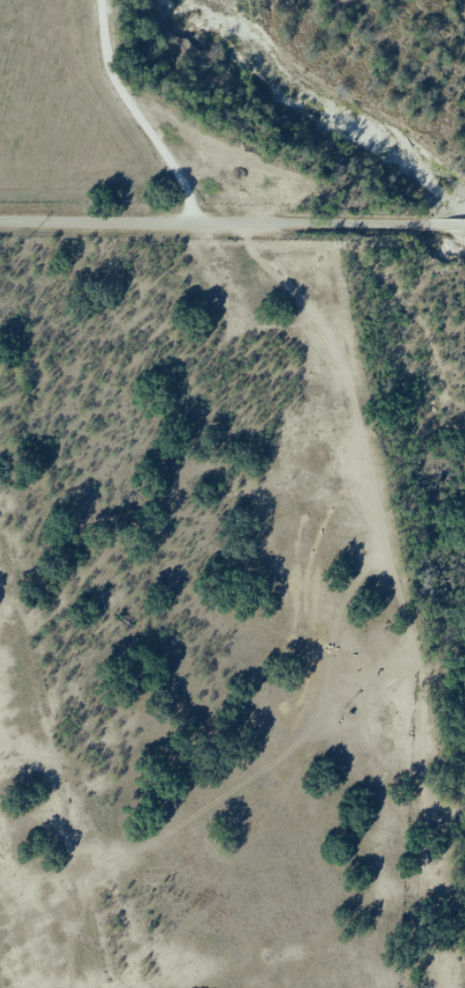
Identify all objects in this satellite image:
road: (224, 94)
road: (175, 110)
road: (232, 222)
power tower: (29, 239)
power tower: (341, 242)
road: (407, 452)

